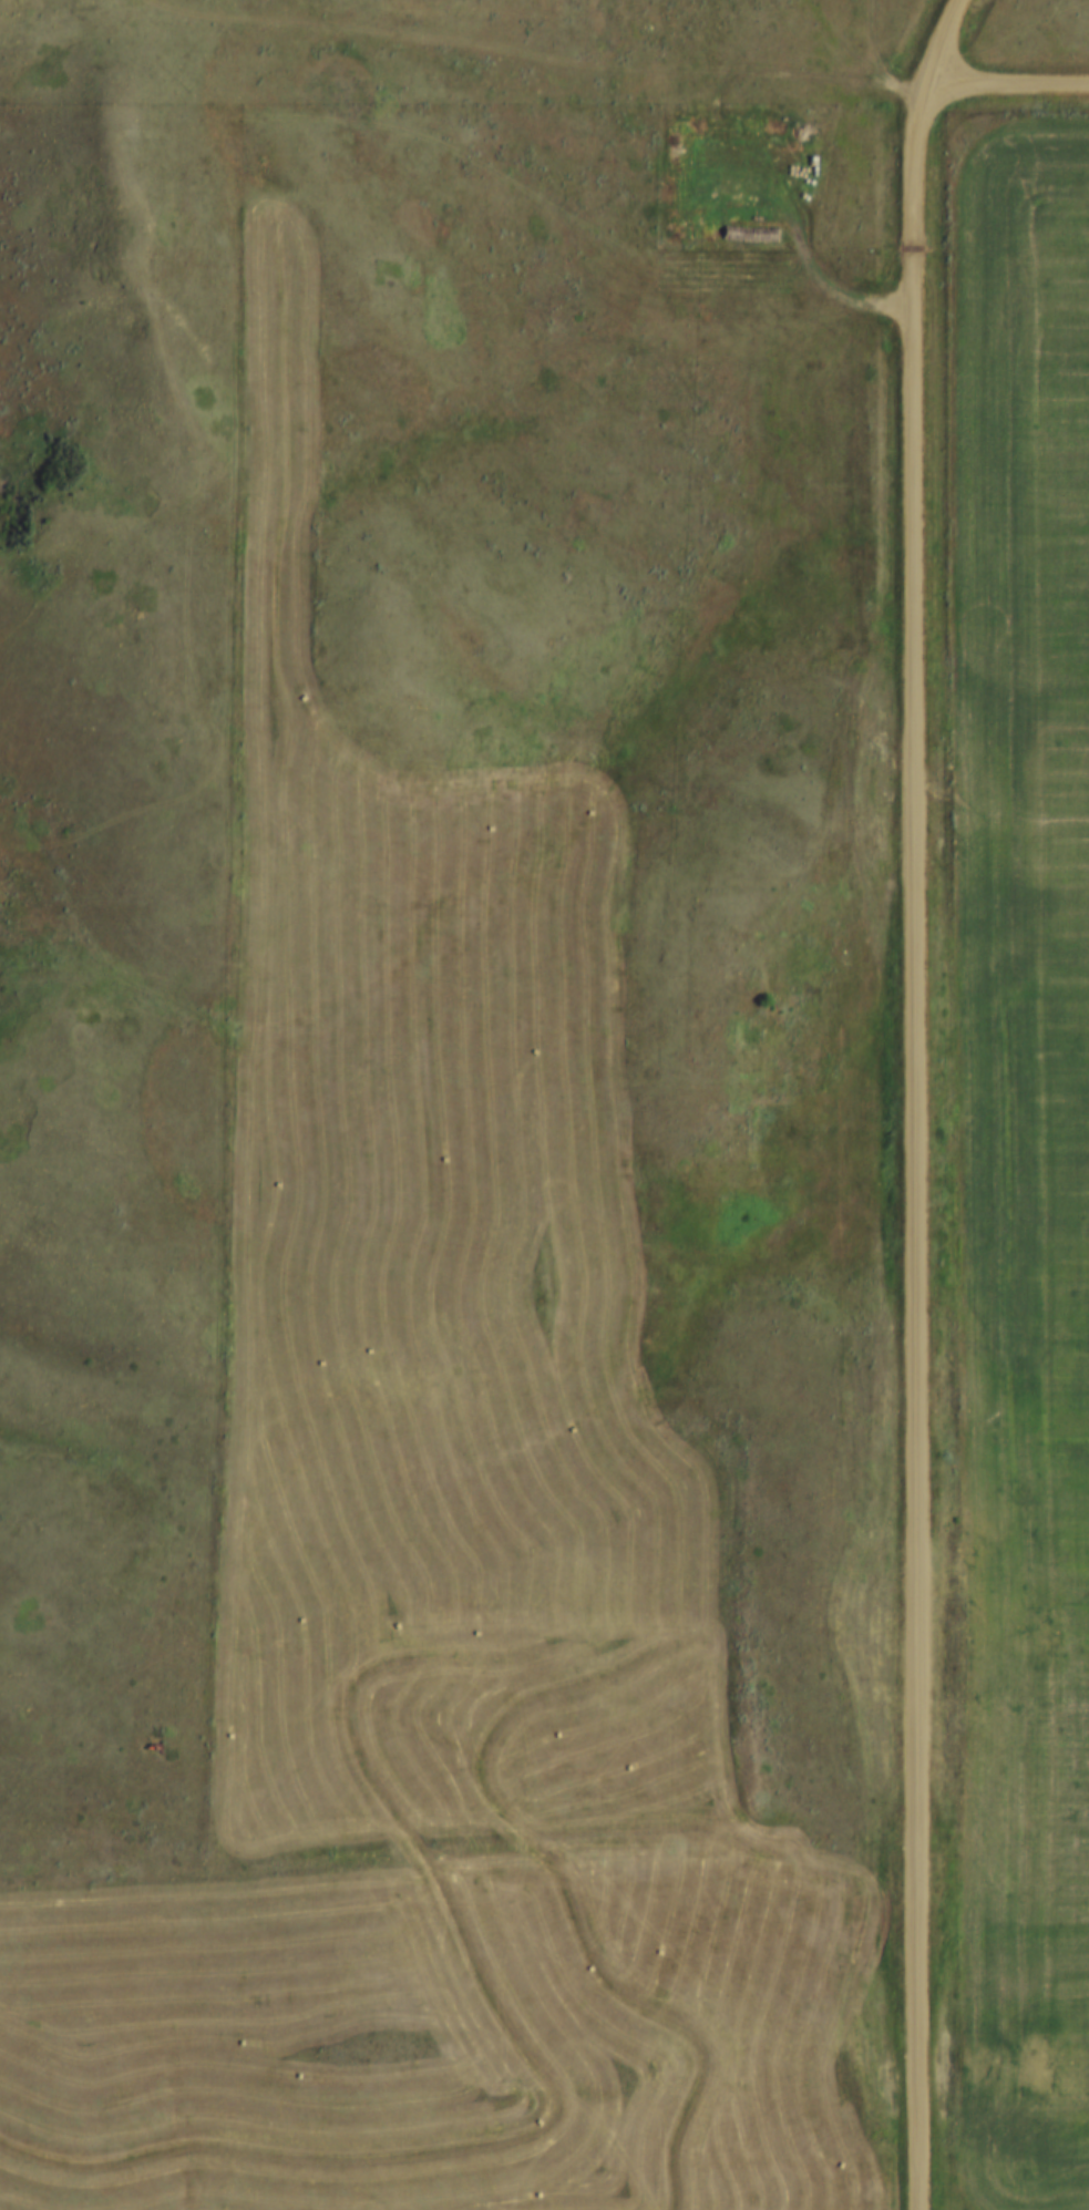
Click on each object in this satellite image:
road: (871, 44)
road: (1003, 89)
road: (913, 1100)
road: (455, 1808)

